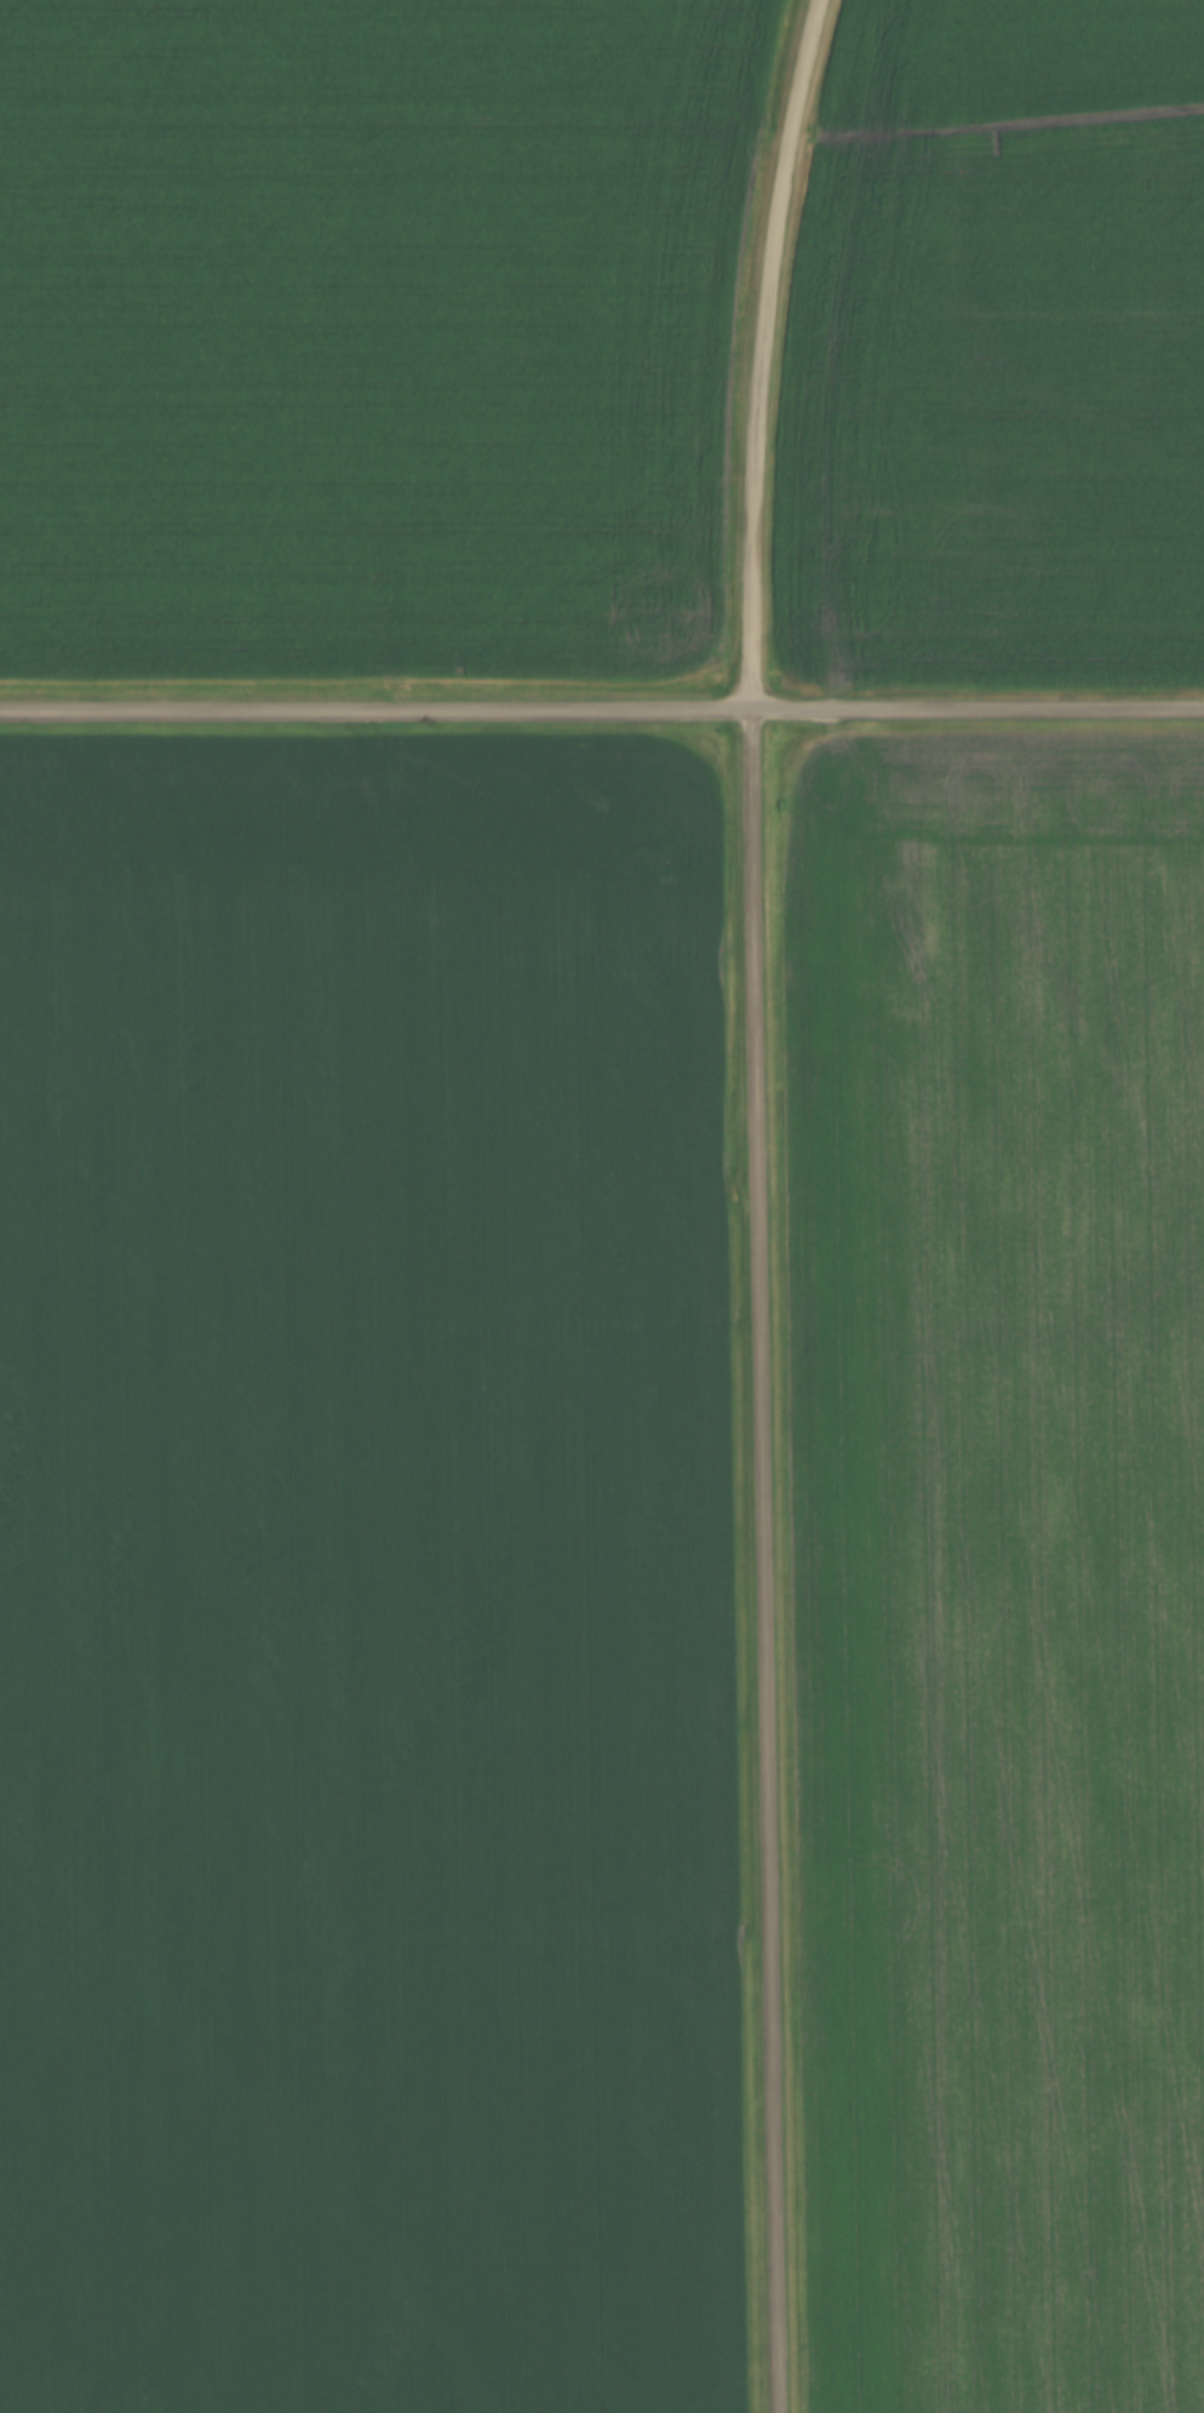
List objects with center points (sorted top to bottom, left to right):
road: (762, 355)
road: (602, 716)
road: (766, 1565)

